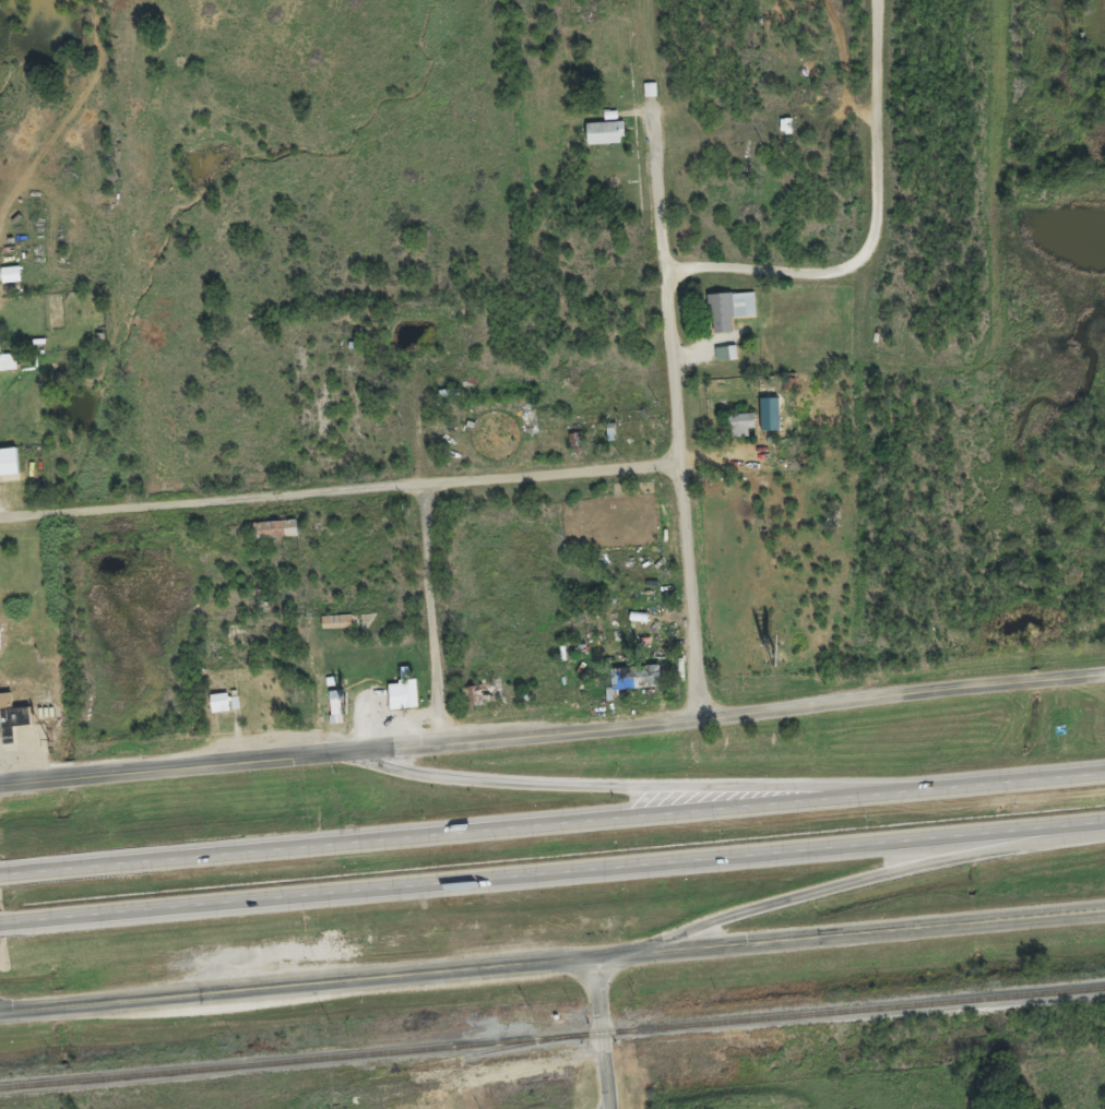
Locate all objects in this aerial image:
building: (646, 98)
road: (878, 127)
building: (602, 141)
road: (768, 270)
building: (8, 283)
building: (727, 318)
building: (7, 370)
road: (675, 412)
building: (767, 422)
building: (738, 432)
building: (7, 469)
road: (340, 494)
road: (435, 618)
building: (333, 630)
building: (629, 687)
building: (221, 711)
building: (333, 715)
building: (10, 726)
road: (552, 737)
road: (635, 784)
road: (557, 821)
road: (560, 869)
road: (5, 873)
road: (857, 877)
road: (9, 921)
road: (551, 958)
road: (603, 1032)
railway: (552, 1035)

